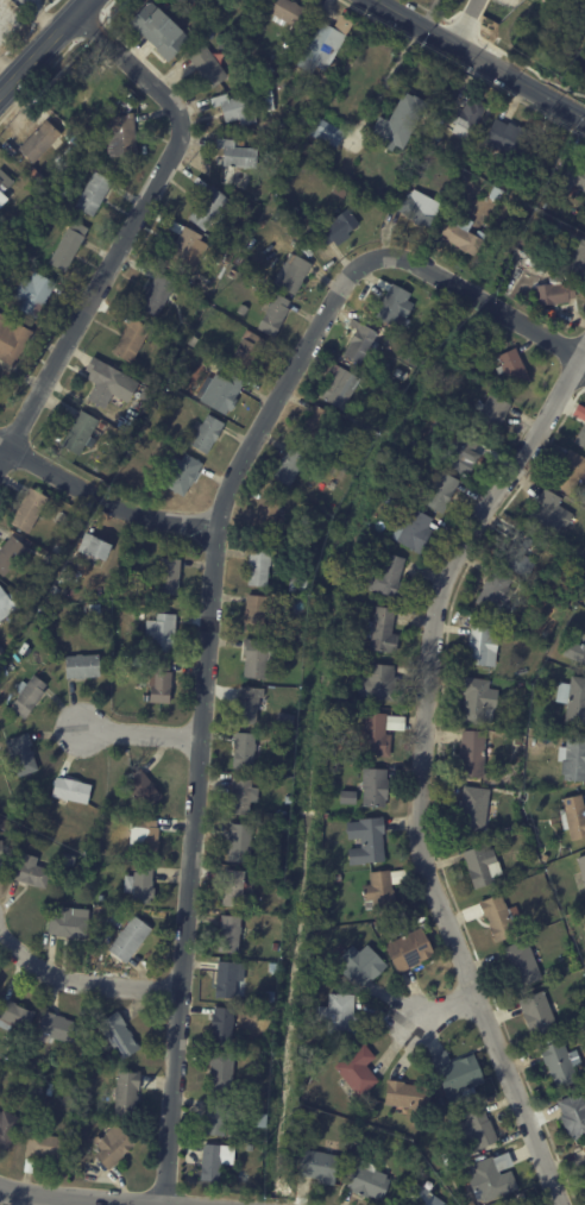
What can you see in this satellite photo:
building: (253, 0)
building: (181, 1)
building: (195, 6)
building: (284, 12)
road: (464, 21)
building: (157, 30)
building: (209, 34)
road: (126, 42)
road: (490, 43)
building: (322, 44)
road: (45, 48)
road: (133, 48)
building: (282, 52)
road: (140, 55)
road: (480, 59)
building: (206, 67)
road: (463, 68)
road: (170, 75)
building: (84, 94)
building: (232, 105)
building: (465, 118)
building: (397, 121)
building: (281, 127)
building: (435, 133)
building: (317, 134)
building: (119, 136)
building: (508, 139)
building: (37, 142)
building: (430, 142)
building: (92, 144)
building: (235, 153)
building: (448, 155)
building: (571, 175)
building: (4, 188)
building: (92, 194)
building: (207, 208)
building: (417, 208)
building: (233, 216)
road: (130, 227)
building: (336, 227)
building: (460, 238)
building: (67, 246)
building: (183, 249)
building: (7, 257)
building: (574, 257)
building: (528, 262)
building: (547, 269)
building: (292, 275)
building: (184, 277)
building: (554, 291)
building: (31, 294)
building: (156, 294)
building: (430, 295)
building: (392, 303)
road: (486, 303)
building: (447, 306)
building: (241, 309)
building: (549, 314)
building: (272, 315)
building: (11, 340)
building: (130, 340)
building: (191, 341)
building: (358, 341)
building: (246, 351)
building: (511, 366)
building: (397, 371)
building: (100, 382)
building: (335, 383)
building: (218, 391)
building: (490, 412)
building: (442, 419)
building: (314, 423)
building: (580, 429)
building: (78, 434)
building: (206, 434)
building: (419, 441)
building: (458, 450)
building: (288, 464)
building: (570, 470)
building: (183, 475)
building: (439, 490)
road: (101, 500)
building: (26, 509)
building: (266, 512)
building: (546, 512)
building: (411, 529)
building: (90, 545)
building: (10, 553)
building: (516, 554)
building: (258, 564)
building: (64, 575)
building: (168, 575)
building: (386, 576)
building: (296, 584)
building: (493, 589)
building: (55, 591)
building: (92, 594)
building: (5, 603)
building: (342, 604)
building: (93, 608)
building: (146, 608)
building: (253, 613)
building: (140, 615)
building: (379, 629)
building: (161, 630)
building: (480, 646)
building: (1, 649)
building: (574, 651)
building: (254, 657)
building: (134, 660)
building: (81, 665)
building: (159, 680)
building: (379, 682)
building: (521, 685)
building: (27, 695)
building: (178, 695)
building: (572, 698)
building: (477, 701)
building: (246, 703)
road: (201, 707)
building: (287, 718)
road: (141, 733)
building: (375, 734)
building: (243, 749)
building: (332, 749)
building: (470, 752)
building: (20, 753)
building: (572, 758)
road: (417, 767)
building: (372, 786)
building: (141, 789)
building: (69, 790)
building: (496, 791)
building: (240, 796)
building: (346, 796)
building: (287, 799)
building: (471, 808)
building: (572, 816)
building: (144, 836)
building: (366, 839)
building: (239, 841)
building: (93, 847)
building: (4, 851)
building: (545, 859)
building: (480, 866)
building: (537, 867)
building: (581, 868)
building: (27, 871)
building: (338, 878)
building: (140, 885)
building: (233, 890)
building: (380, 891)
building: (497, 916)
building: (65, 923)
building: (380, 925)
building: (227, 933)
building: (128, 939)
building: (409, 949)
building: (520, 962)
building: (359, 965)
building: (547, 972)
building: (226, 978)
road: (81, 984)
building: (268, 997)
road: (447, 1005)
building: (254, 1010)
building: (536, 1013)
building: (13, 1015)
building: (336, 1015)
building: (220, 1025)
building: (54, 1028)
building: (117, 1035)
building: (21, 1060)
building: (560, 1062)
building: (356, 1069)
building: (220, 1071)
building: (19, 1075)
building: (458, 1077)
building: (48, 1090)
building: (125, 1092)
building: (408, 1096)
building: (215, 1115)
building: (573, 1115)
building: (361, 1117)
building: (259, 1121)
building: (7, 1129)
building: (477, 1130)
building: (44, 1146)
building: (111, 1146)
building: (584, 1150)
building: (209, 1162)
building: (27, 1165)
building: (315, 1166)
building: (490, 1178)
building: (366, 1181)
building: (420, 1193)
building: (518, 1197)
road: (51, 1200)
building: (467, 1203)

